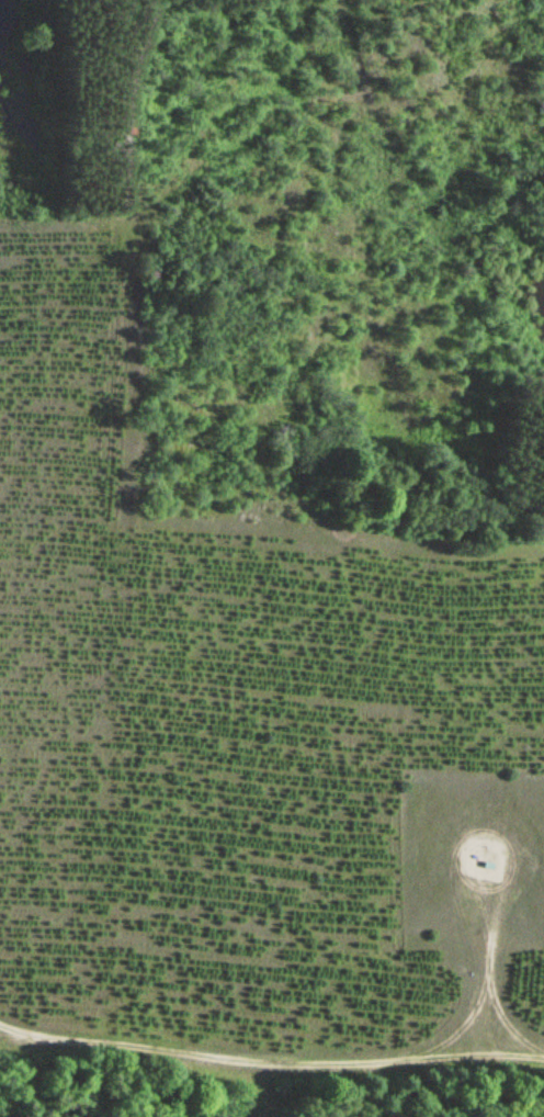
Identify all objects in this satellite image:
road: (478, 820)
petroleum well: (480, 864)
road: (491, 989)
road: (270, 1061)

